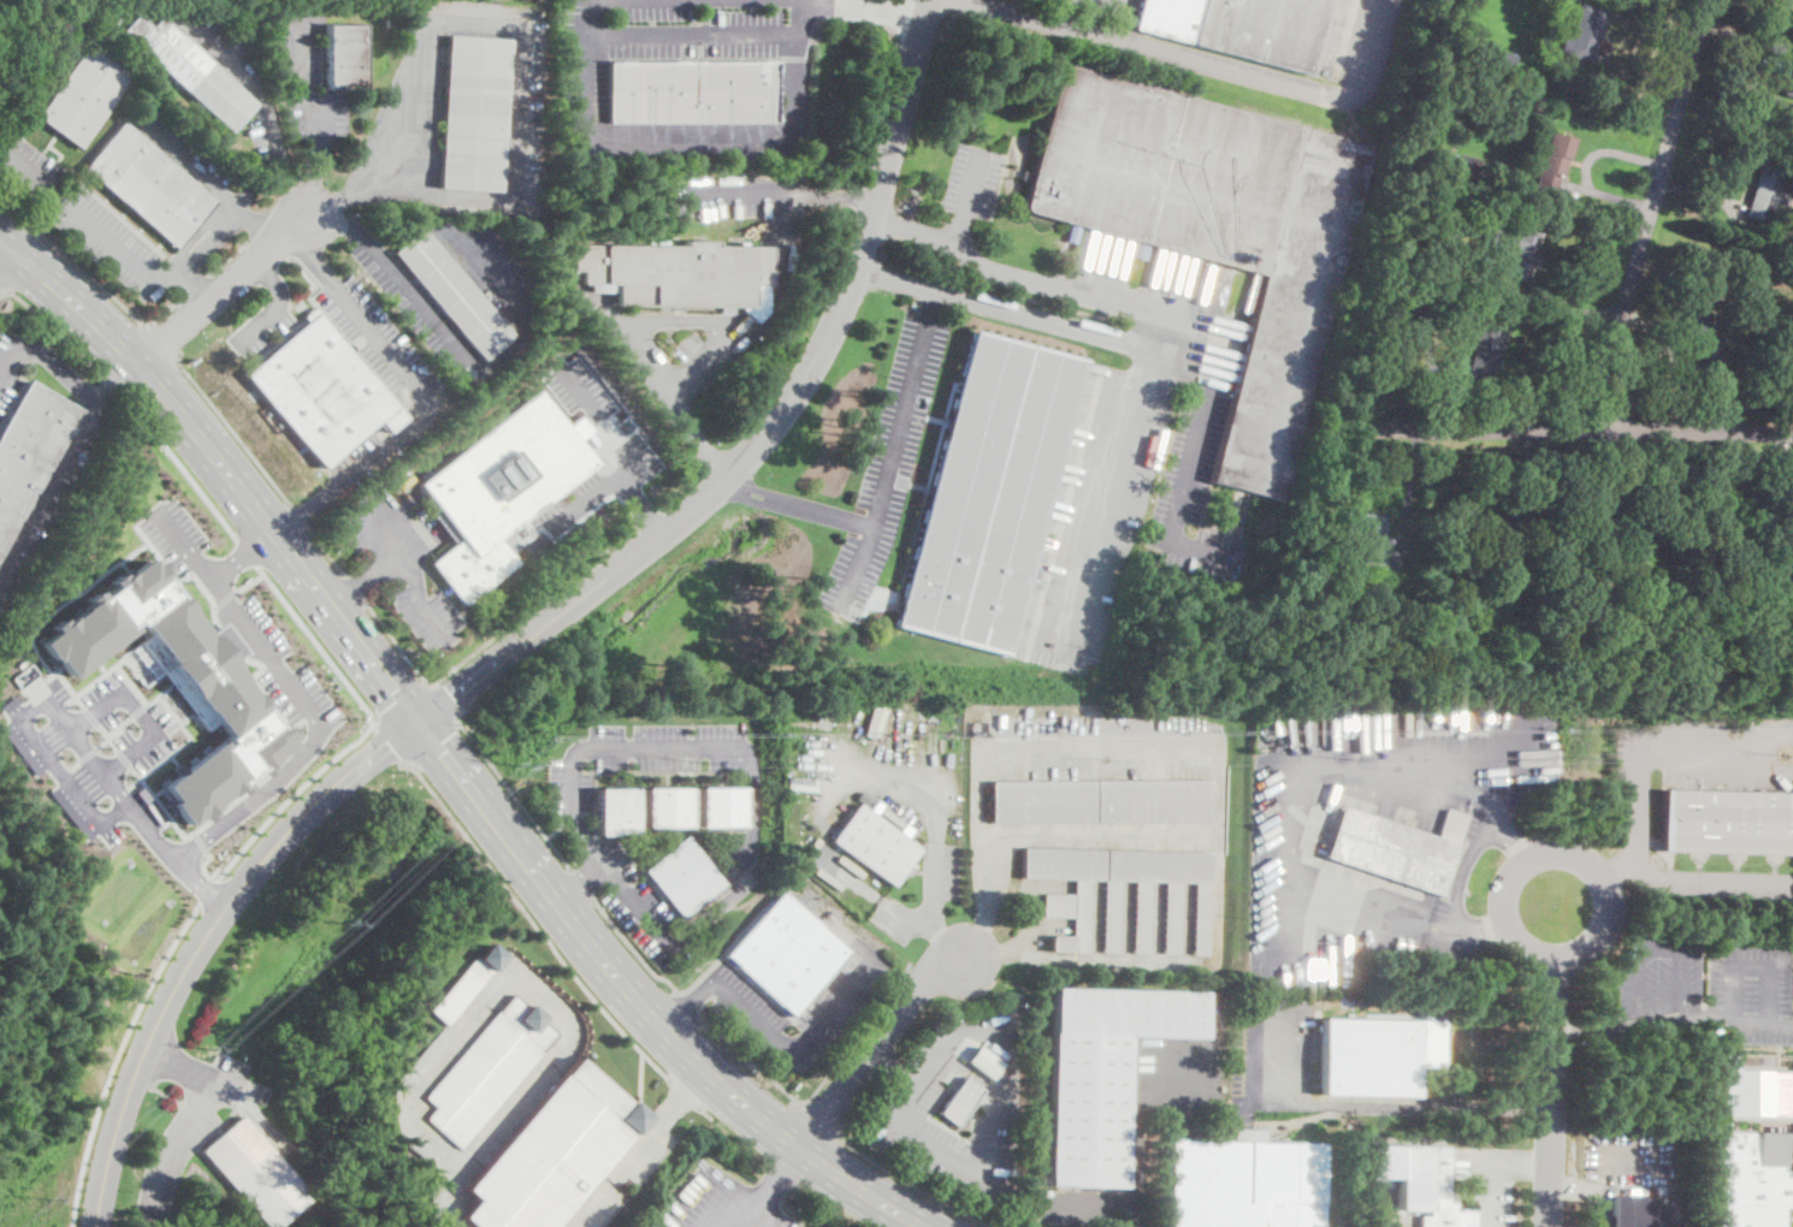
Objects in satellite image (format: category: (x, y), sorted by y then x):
road: (1103, 0)
road: (699, 1)
parking lot: (591, 2)
parking lot: (1106, 5)
parking lot: (675, 7)
road: (869, 7)
road: (1054, 11)
road: (903, 19)
building: (1241, 28)
building: (1769, 31)
building: (1585, 32)
road: (694, 34)
parking lot: (649, 53)
building: (1456, 53)
building: (345, 55)
road: (517, 55)
building: (1503, 59)
road: (1200, 60)
building: (190, 70)
road: (588, 70)
building: (1788, 81)
road: (252, 84)
building: (1454, 90)
building: (692, 91)
building: (85, 95)
road: (878, 112)
road: (22, 113)
building: (474, 113)
road: (316, 126)
building: (529, 129)
building: (1449, 137)
road: (757, 138)
parking lot: (179, 147)
building: (1555, 158)
road: (187, 161)
road: (26, 162)
building: (1462, 165)
road: (1584, 166)
parking lot: (30, 171)
building: (1025, 176)
parking lot: (972, 179)
building: (149, 185)
road: (294, 189)
road: (776, 189)
building: (1767, 191)
parking lot: (720, 195)
road: (345, 196)
road: (965, 196)
road: (1650, 217)
road: (335, 224)
road: (256, 225)
building: (1217, 230)
road: (206, 238)
parking lot: (110, 242)
road: (118, 243)
building: (1516, 253)
road: (5, 254)
road: (230, 256)
building: (1751, 268)
building: (1428, 269)
building: (679, 274)
road: (91, 275)
road: (1034, 281)
road: (196, 284)
road: (193, 285)
road: (2, 288)
road: (224, 289)
building: (1409, 290)
building: (456, 295)
road: (414, 296)
building: (1750, 302)
road: (276, 304)
road: (1010, 309)
parking lot: (420, 310)
building: (1402, 310)
building: (1746, 325)
road: (55, 328)
parking lot: (261, 328)
road: (633, 330)
road: (113, 338)
road: (165, 343)
building: (1706, 345)
road: (10, 348)
building: (1487, 348)
parking lot: (385, 349)
parking lot: (677, 349)
parking lot: (10, 366)
road: (59, 369)
road: (114, 379)
building: (322, 390)
road: (420, 396)
road: (771, 428)
road: (1579, 433)
road: (236, 434)
building: (30, 450)
road: (613, 451)
road: (890, 451)
road: (1116, 461)
parking lot: (887, 463)
road: (1188, 466)
road: (52, 485)
parking lot: (1194, 488)
road: (200, 490)
building: (502, 490)
road: (680, 492)
building: (989, 492)
parking lot: (576, 500)
road: (640, 504)
road: (795, 505)
building: (1712, 505)
parking lot: (47, 506)
road: (298, 514)
building: (1475, 514)
road: (650, 518)
building: (1602, 522)
building: (1671, 522)
building: (1525, 524)
building: (1368, 537)
road: (185, 546)
road: (326, 550)
building: (1789, 550)
road: (249, 552)
parking lot: (401, 563)
road: (413, 576)
road: (365, 579)
road: (250, 581)
building: (1599, 581)
road: (315, 585)
building: (1372, 588)
road: (356, 591)
building: (1628, 592)
road: (224, 598)
building: (1783, 599)
road: (537, 606)
building: (1602, 609)
road: (51, 613)
parking lot: (243, 621)
building: (1631, 626)
building: (1374, 642)
road: (318, 644)
road: (398, 647)
building: (1446, 648)
road: (253, 675)
building: (223, 693)
road: (400, 700)
road: (51, 701)
road: (164, 703)
road: (446, 704)
road: (138, 710)
road: (140, 712)
road: (90, 715)
traffic signals: (418, 721)
road: (119, 725)
road: (321, 729)
road: (108, 737)
road: (390, 742)
road: (433, 742)
road: (103, 743)
road: (1641, 745)
parking lot: (94, 752)
road: (993, 752)
power tower: (1786, 753)
road: (89, 754)
parking lot: (641, 755)
power tower: (1578, 755)
power tower: (1342, 757)
road: (124, 758)
power tower: (1107, 759)
power tower: (893, 760)
power tower: (704, 763)
power tower: (517, 764)
road: (756, 770)
road: (830, 783)
road: (292, 795)
road: (515, 796)
building: (1101, 801)
building: (723, 804)
road: (160, 805)
building: (669, 805)
building: (617, 808)
road: (1298, 808)
building: (1727, 822)
road: (555, 829)
road: (1141, 834)
road: (200, 842)
building: (875, 843)
building: (1396, 849)
parking lot: (736, 855)
road: (523, 858)
road: (205, 870)
building: (685, 876)
road: (1668, 879)
road: (579, 882)
road: (584, 887)
parking lot: (1729, 887)
road: (208, 890)
parking lot: (633, 899)
road: (1555, 905)
building: (1066, 907)
power tower: (344, 921)
road: (533, 926)
road: (203, 941)
road: (635, 952)
building: (787, 954)
road: (1158, 962)
road: (1751, 964)
road: (906, 965)
road: (1635, 967)
parking lot: (1656, 976)
road: (896, 977)
road: (522, 979)
road: (152, 982)
building: (468, 982)
road: (896, 982)
parking lot: (1750, 990)
park: (1792, 991)
road: (690, 1006)
road: (691, 1006)
parking lot: (750, 1013)
road: (1739, 1018)
road: (1585, 1027)
road: (877, 1045)
power tower: (208, 1047)
road: (799, 1049)
parking lot: (1272, 1050)
parking lot: (976, 1054)
building: (1377, 1055)
road: (178, 1065)
road: (1550, 1066)
road: (896, 1067)
building: (489, 1068)
building: (1102, 1073)
parking lot: (1177, 1074)
road: (641, 1079)
road: (690, 1085)
building: (1754, 1090)
road: (165, 1093)
road: (684, 1093)
road: (807, 1101)
building: (960, 1102)
road: (1393, 1106)
road: (704, 1112)
road: (196, 1118)
road: (821, 1118)
road: (768, 1122)
road: (183, 1127)
parking lot: (187, 1132)
road: (995, 1134)
parking lot: (949, 1140)
road: (1136, 1150)
building: (554, 1151)
road: (629, 1157)
road: (1519, 1162)
parking lot: (1621, 1168)
building: (255, 1170)
building: (1753, 1179)
building: (1420, 1181)
road: (906, 1182)
building: (1247, 1182)
road: (1594, 1185)
road: (1570, 1186)
road: (773, 1189)
power tower: (46, 1195)
road: (1495, 1195)
parking lot: (1493, 1202)
parking lot: (717, 1203)
parking lot: (1076, 1205)
building: (1644, 1209)
road: (442, 1210)
road: (1134, 1215)
road: (580, 1220)
parking lot: (789, 1222)

